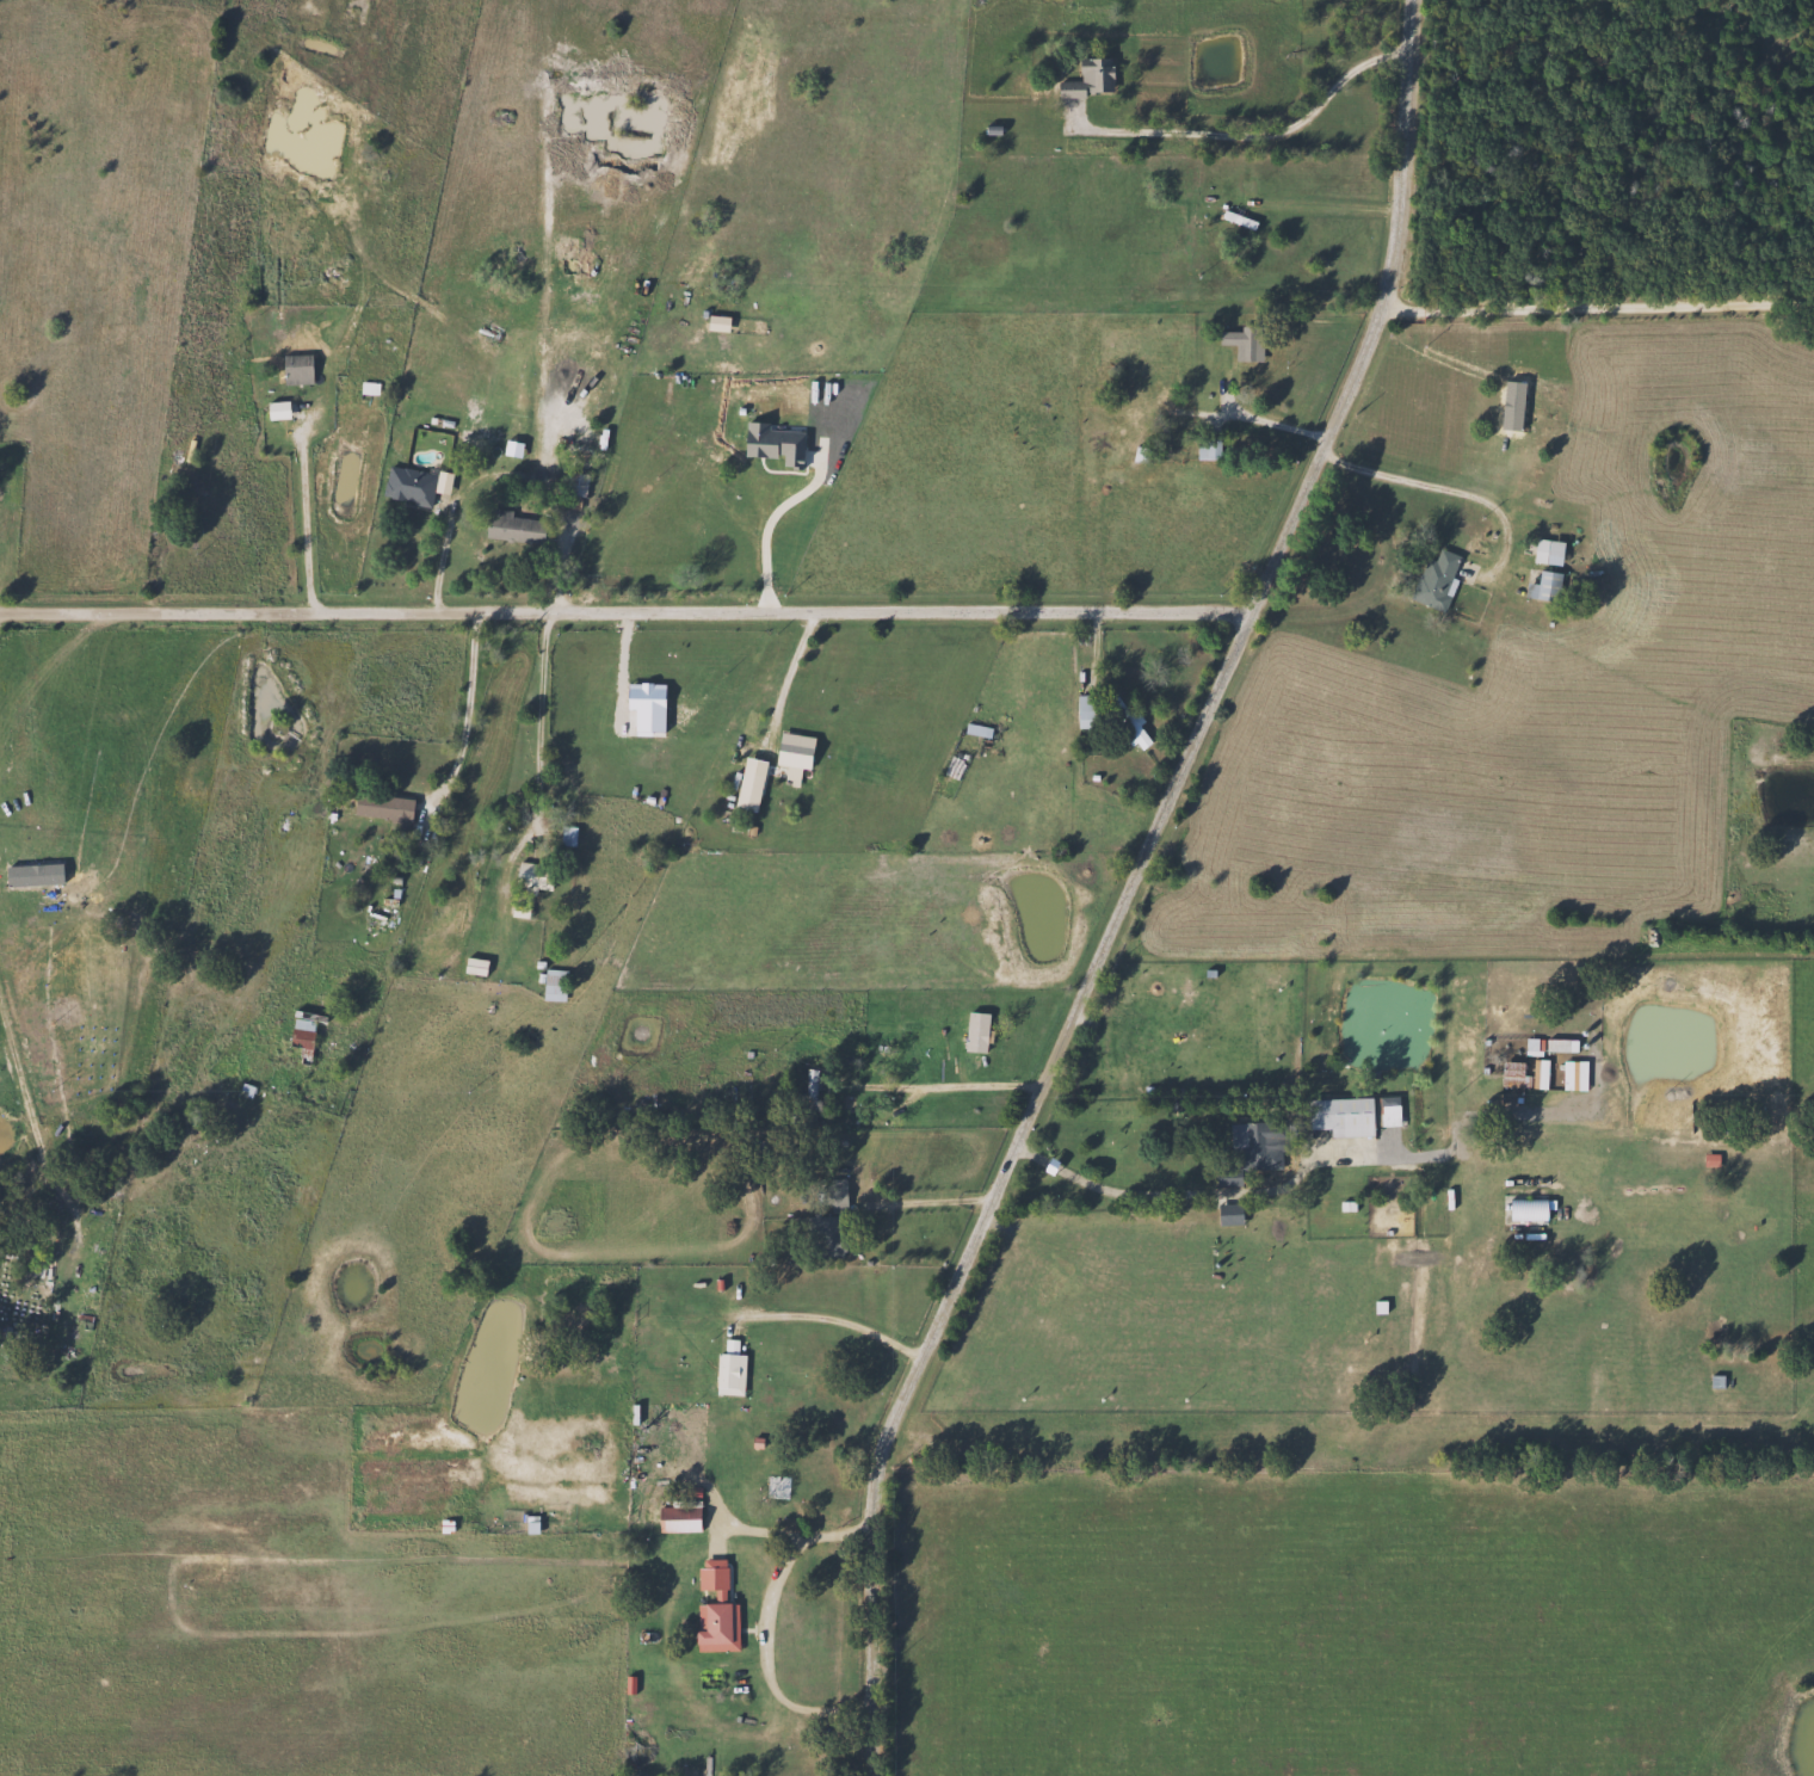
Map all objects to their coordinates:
building: (1088, 79)
road: (1254, 137)
road: (1331, 211)
building: (1236, 218)
building: (296, 264)
road: (1600, 302)
building: (1233, 349)
building: (295, 370)
road: (1277, 427)
building: (1170, 433)
building: (1205, 450)
road: (1452, 481)
building: (407, 487)
building: (570, 492)
road: (302, 510)
road: (773, 514)
building: (508, 528)
road: (443, 550)
building: (1547, 551)
building: (1434, 581)
building: (1543, 586)
road: (629, 613)
road: (0, 619)
road: (789, 670)
road: (465, 711)
building: (1085, 711)
building: (1125, 720)
road: (549, 723)
building: (976, 729)
building: (790, 750)
building: (383, 813)
building: (564, 835)
building: (530, 875)
road: (1139, 889)
building: (517, 909)
building: (471, 966)
building: (553, 985)
building: (974, 1030)
building: (301, 1037)
road: (30, 1068)
building: (1512, 1074)
road: (967, 1086)
building: (1338, 1115)
building: (1260, 1143)
building: (829, 1191)
road: (1172, 1195)
road: (930, 1200)
road: (804, 1313)
building: (727, 1373)
building: (675, 1517)
building: (712, 1610)
road: (761, 1626)

